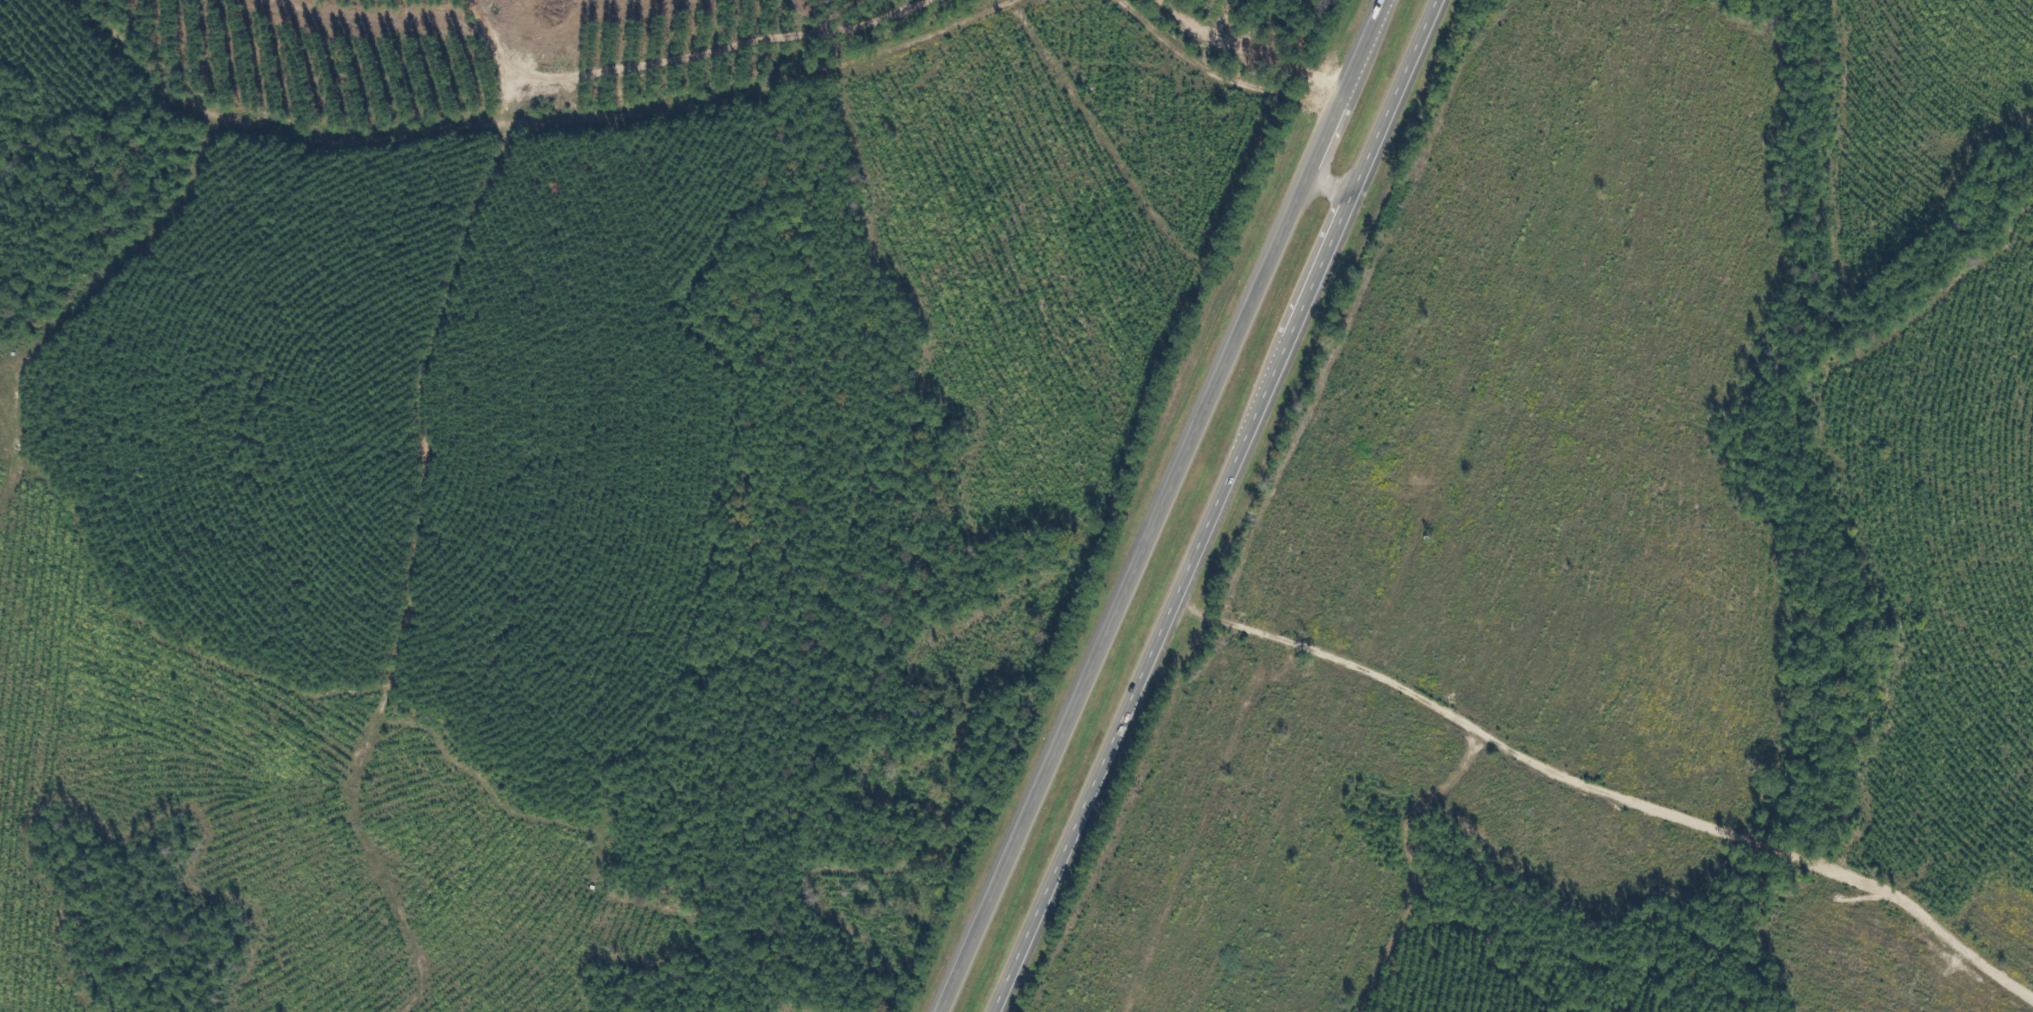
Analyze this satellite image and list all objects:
road: (1327, 181)
road: (1214, 504)
road: (1157, 505)
road: (1602, 802)

